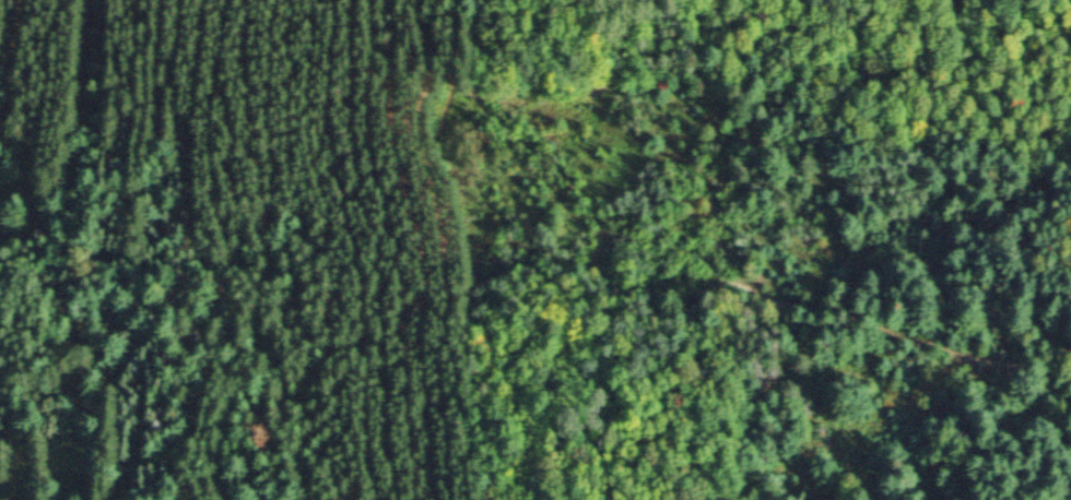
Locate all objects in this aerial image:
road: (577, 190)
road: (829, 314)
road: (671, 320)

